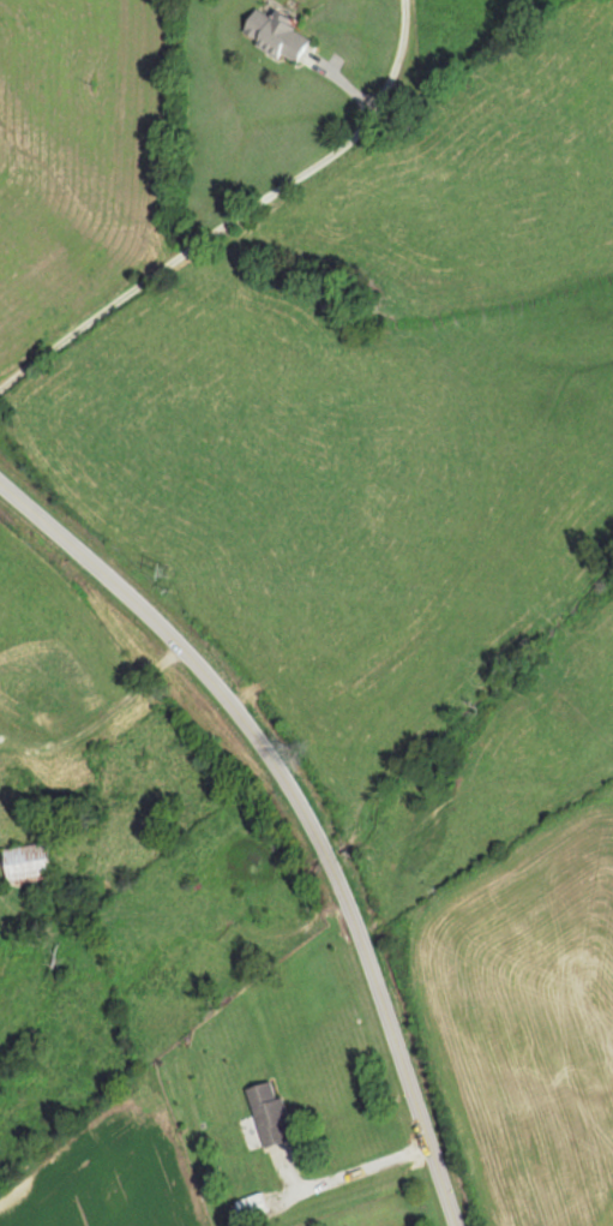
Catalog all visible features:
building: (274, 35)
road: (236, 216)
road: (304, 807)
building: (36, 861)
building: (266, 1112)
building: (250, 1204)

